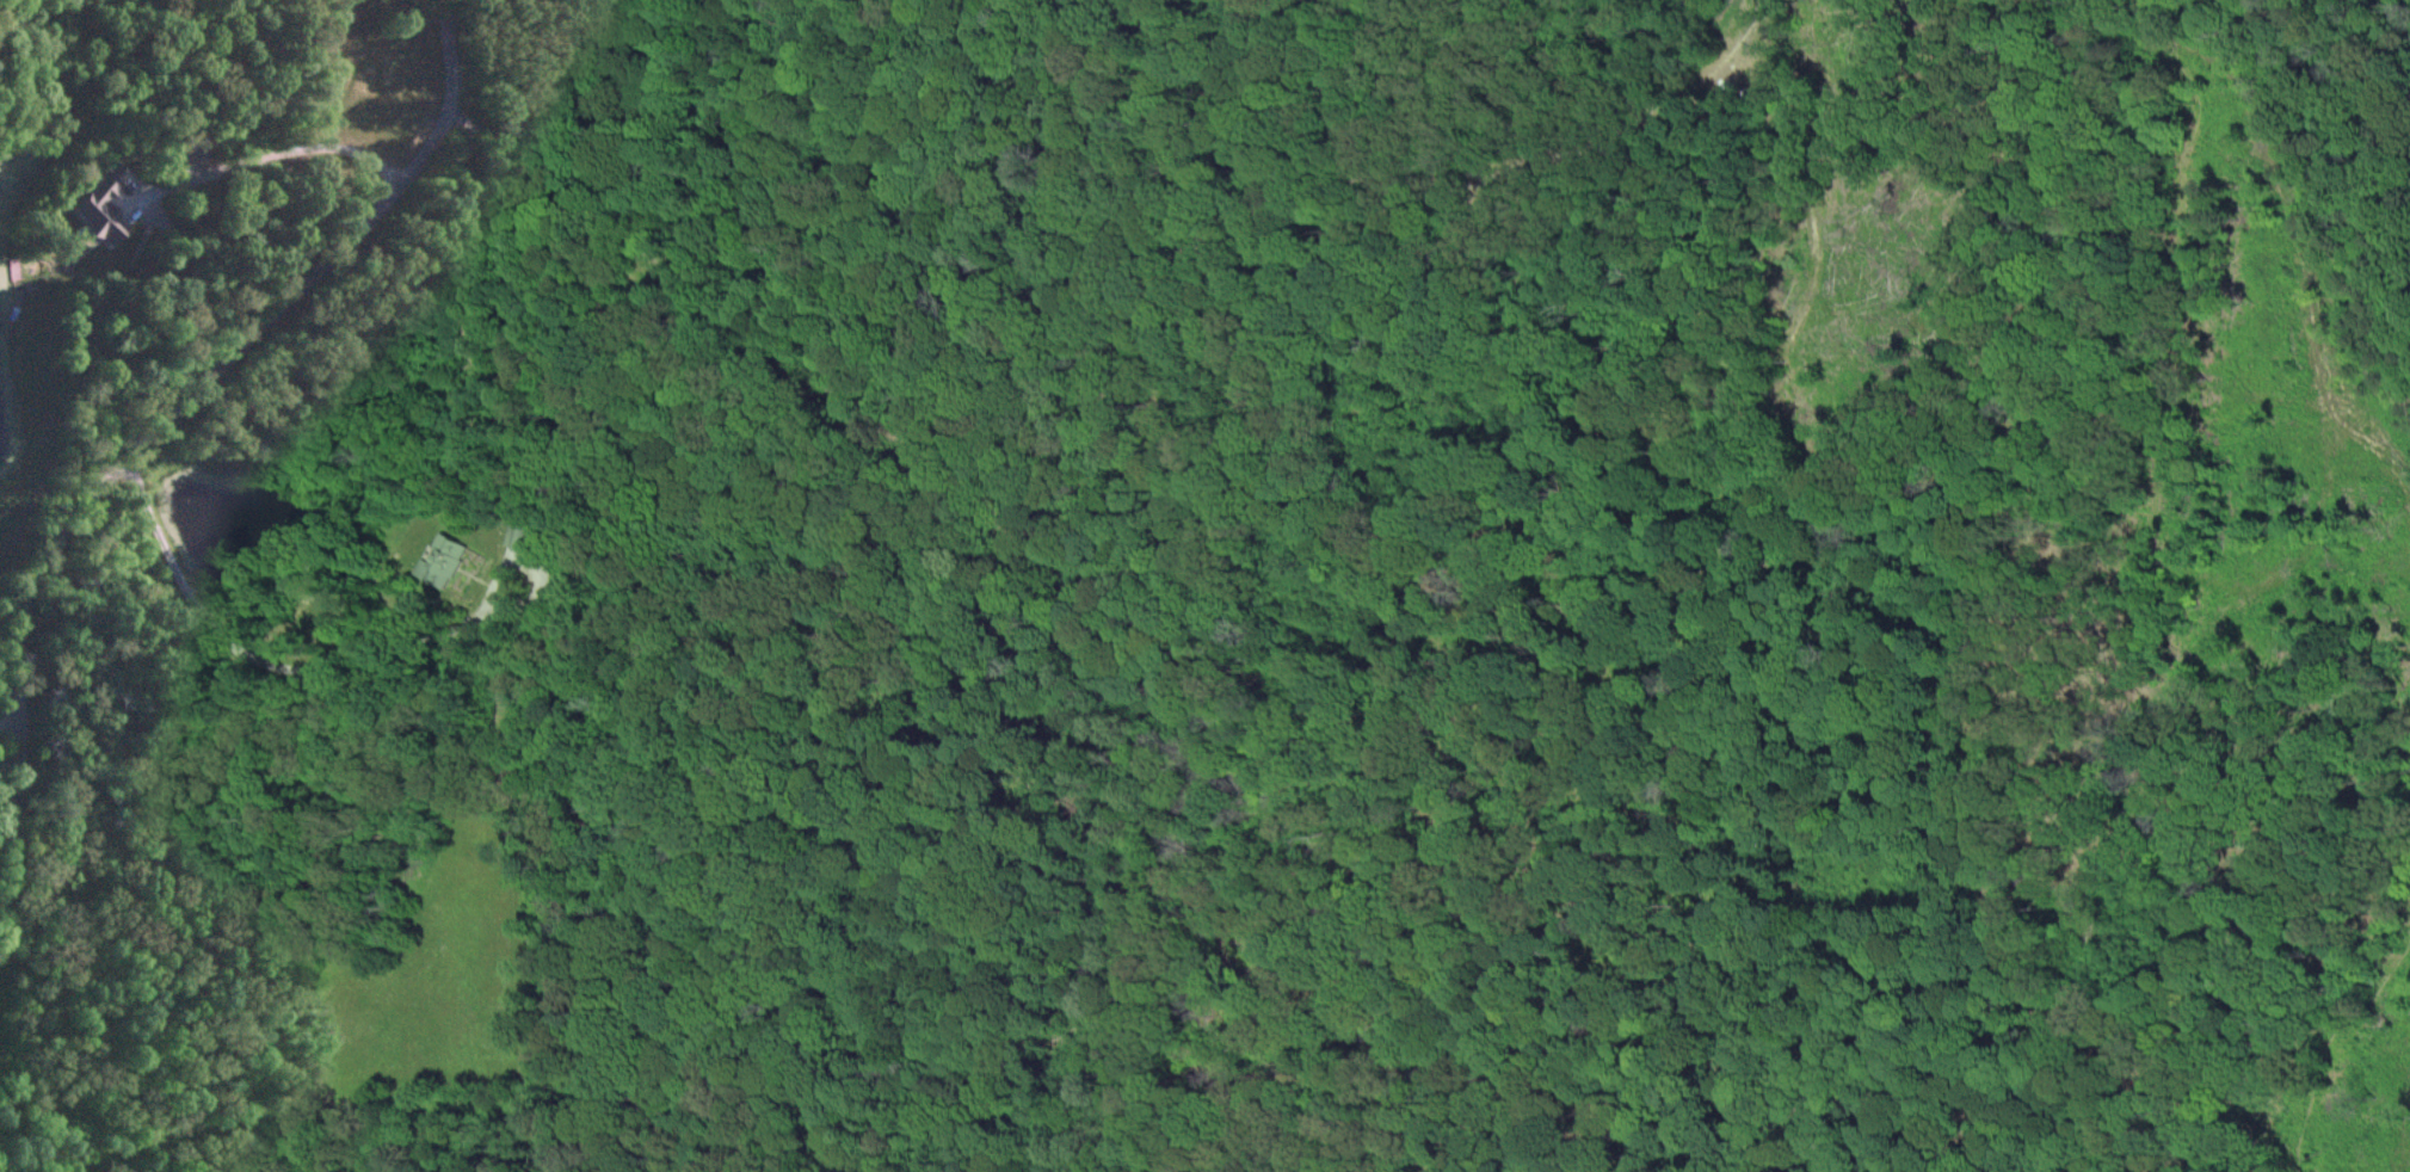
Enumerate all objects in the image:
road: (443, 61)
road: (264, 155)
building: (106, 205)
road: (118, 464)
road: (1170, 485)
building: (522, 537)
building: (439, 562)
road: (327, 670)
road: (2184, 695)
road: (6, 716)
road: (5, 767)

